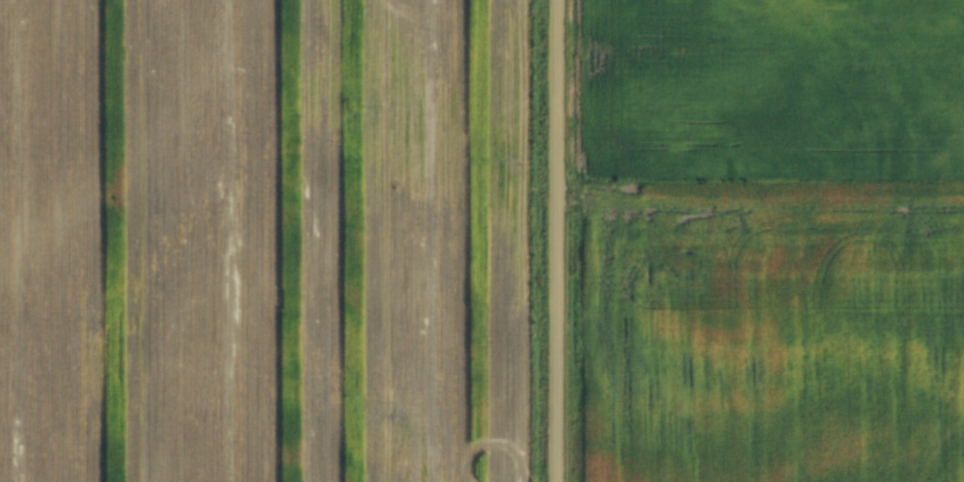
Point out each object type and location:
road: (547, 241)

